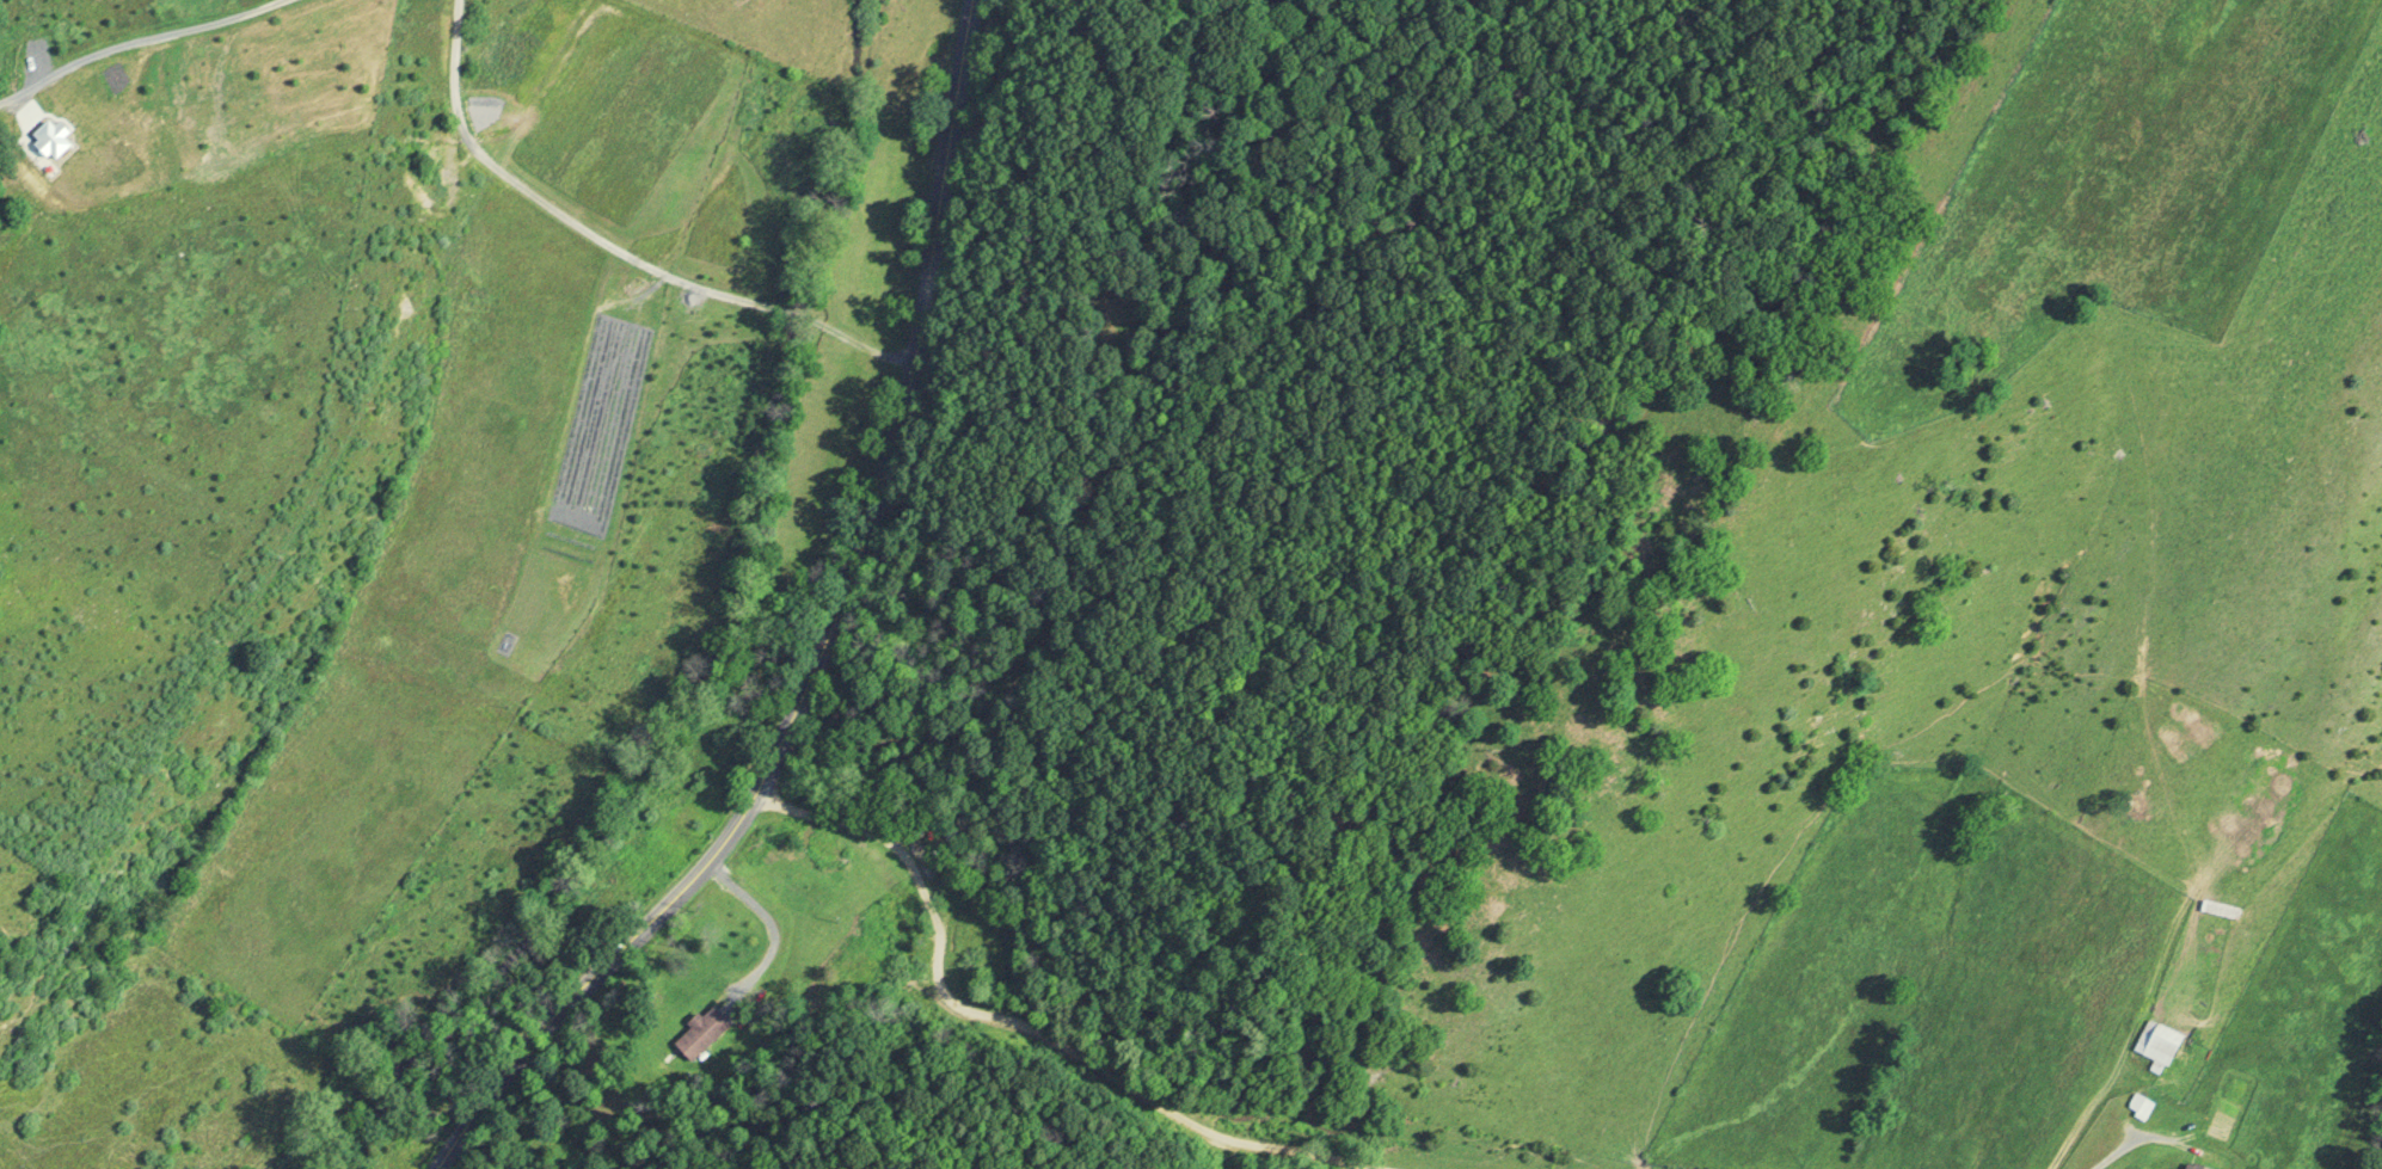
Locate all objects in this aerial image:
road: (135, 42)
road: (608, 250)
road: (827, 639)
building: (2220, 909)
road: (925, 968)
building: (701, 1033)
building: (2157, 1044)
road: (2098, 1122)
building: (2194, 1165)

